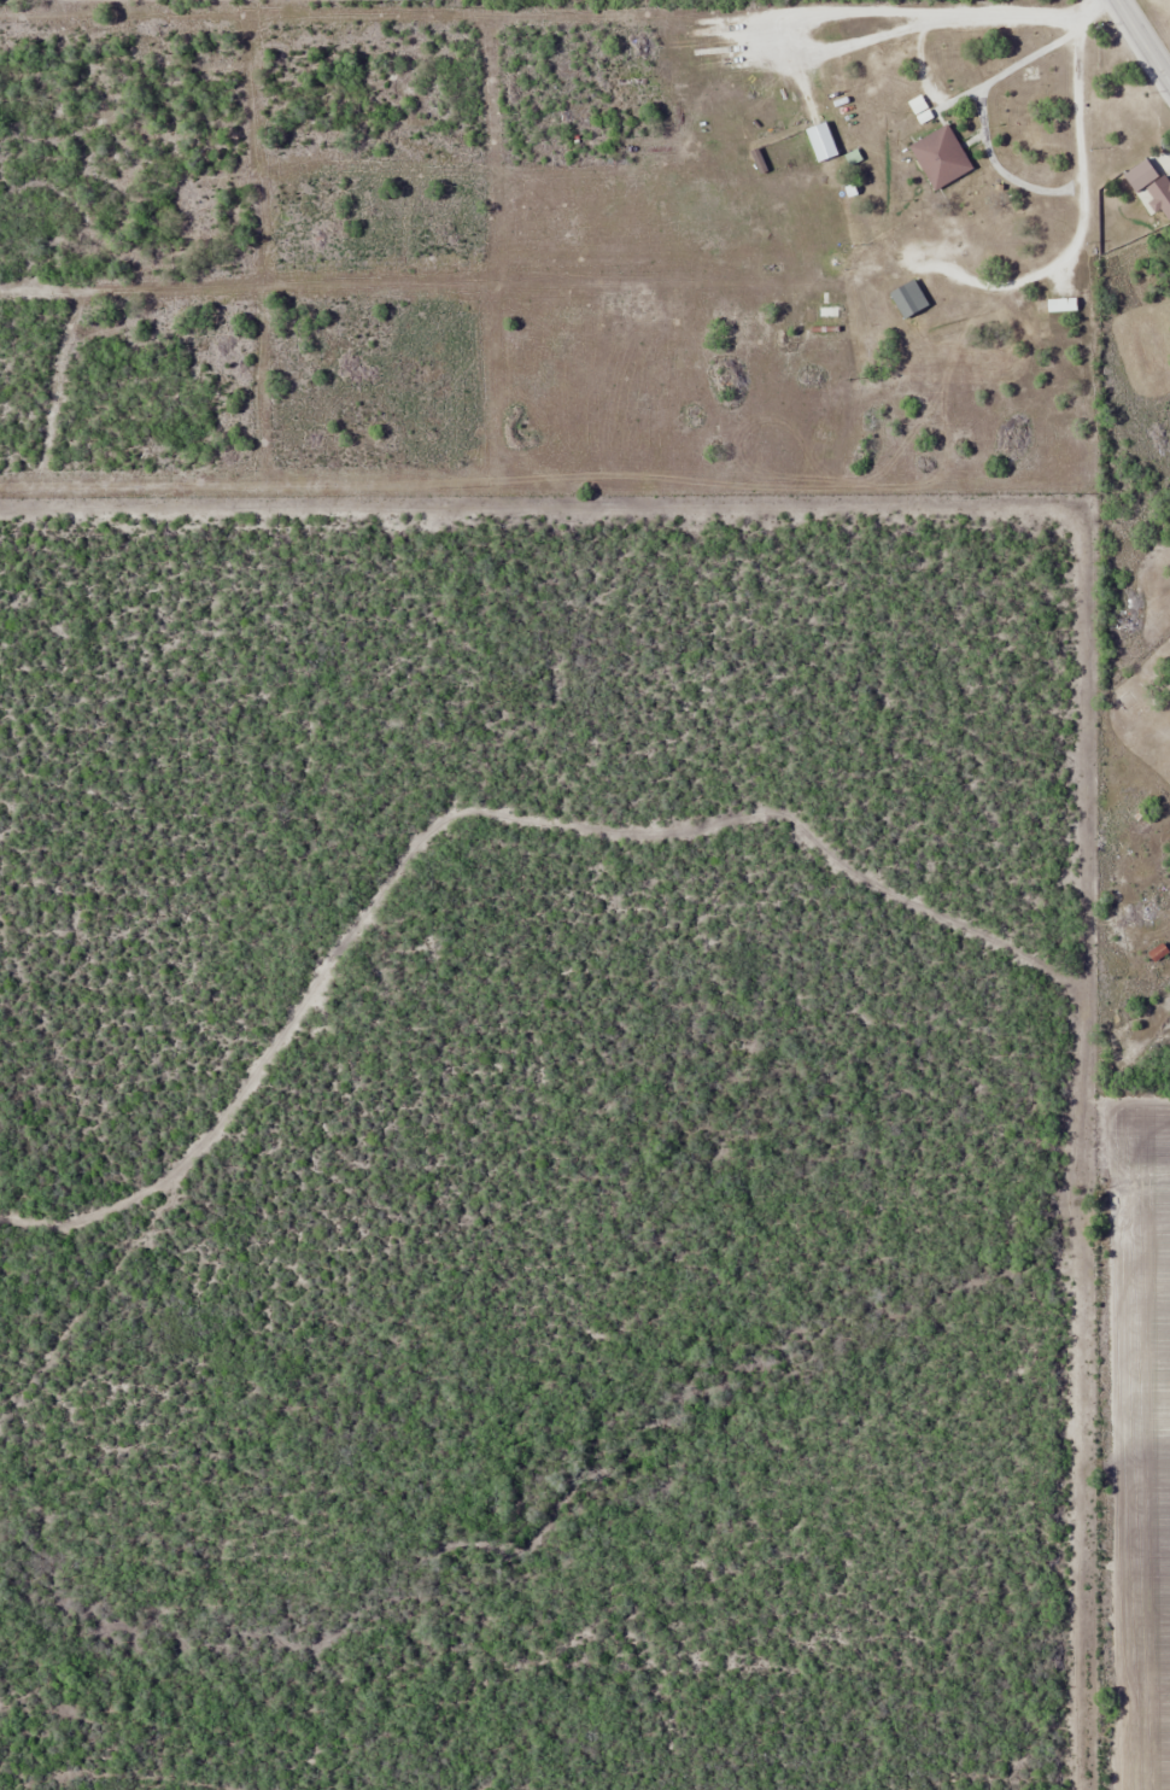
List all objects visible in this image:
road: (1141, 43)
building: (940, 157)
building: (1135, 172)
building: (1160, 197)
building: (908, 299)
building: (1158, 953)

